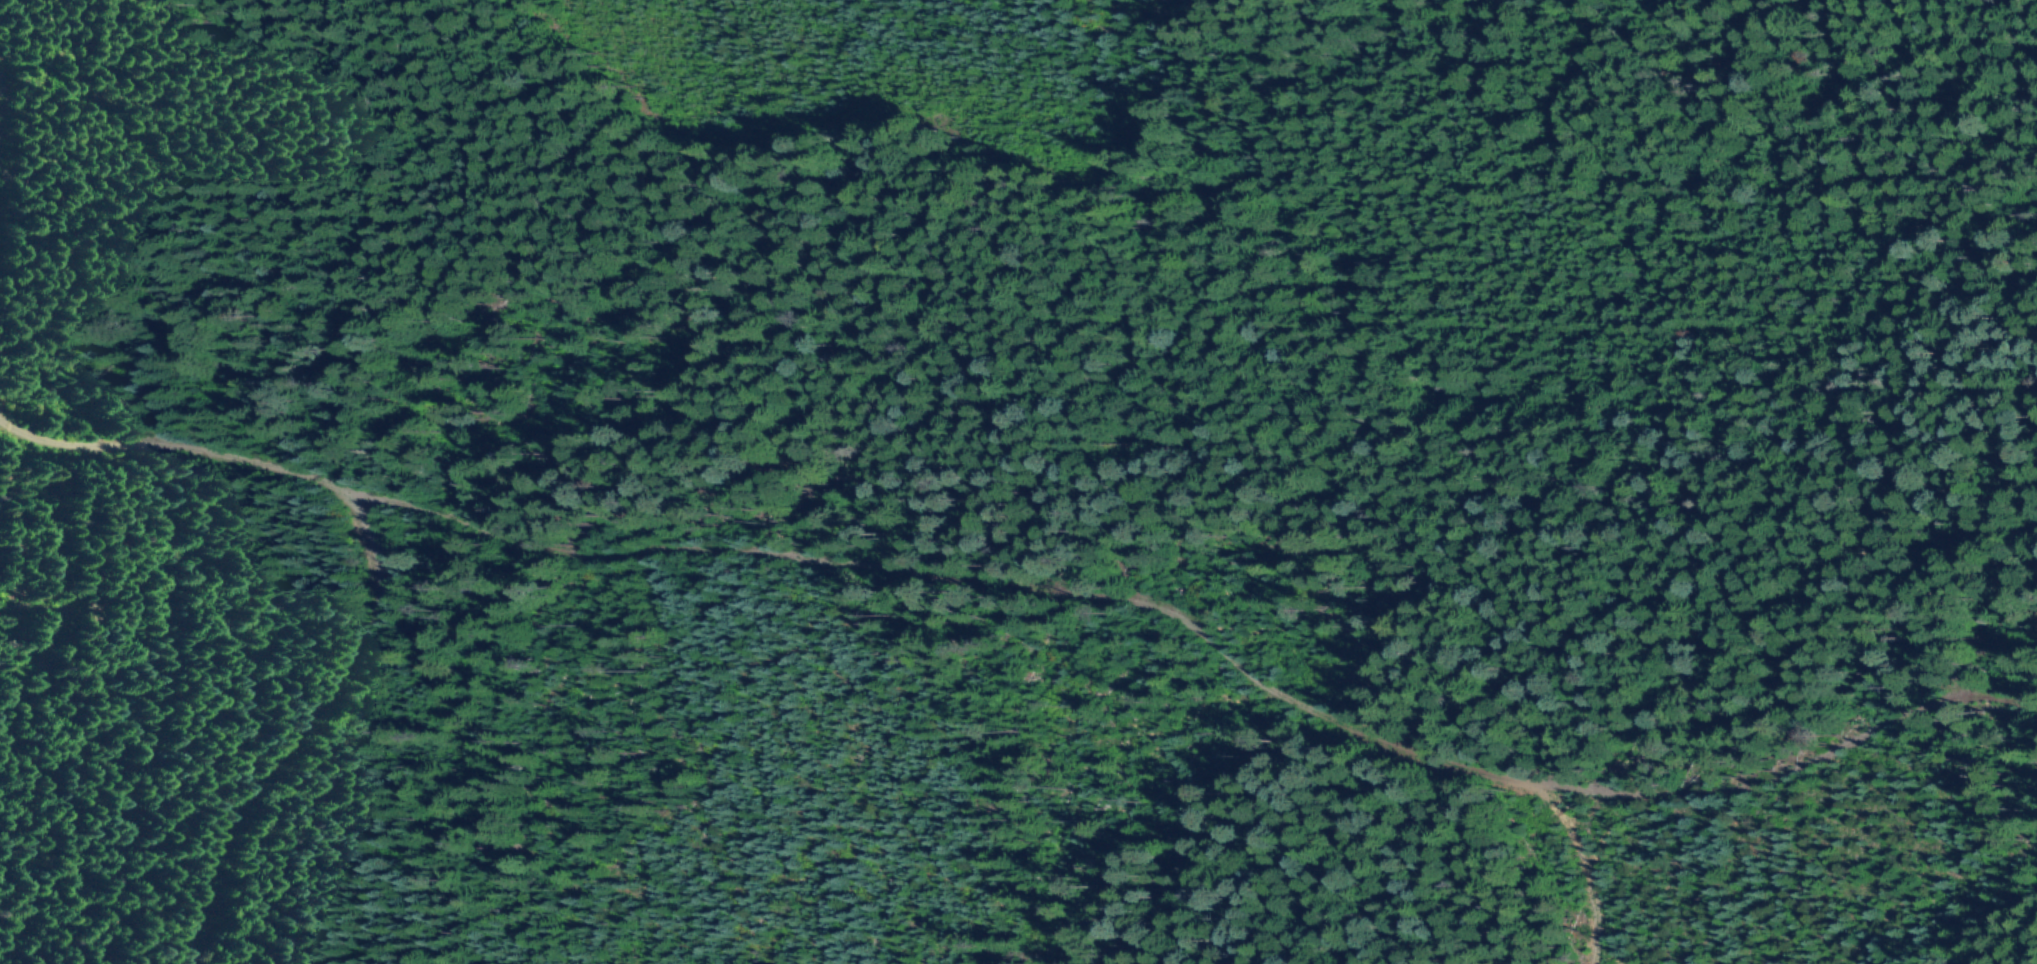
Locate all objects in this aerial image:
road: (378, 567)
road: (1213, 646)

